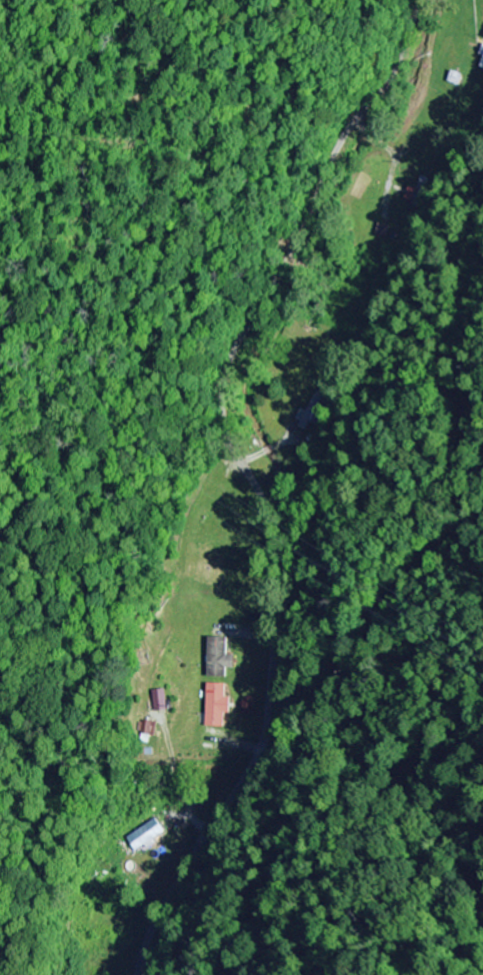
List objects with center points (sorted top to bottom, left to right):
building: (481, 53)
building: (482, 66)
building: (418, 193)
road: (248, 479)
building: (222, 657)
building: (161, 700)
building: (219, 705)
building: (147, 835)

